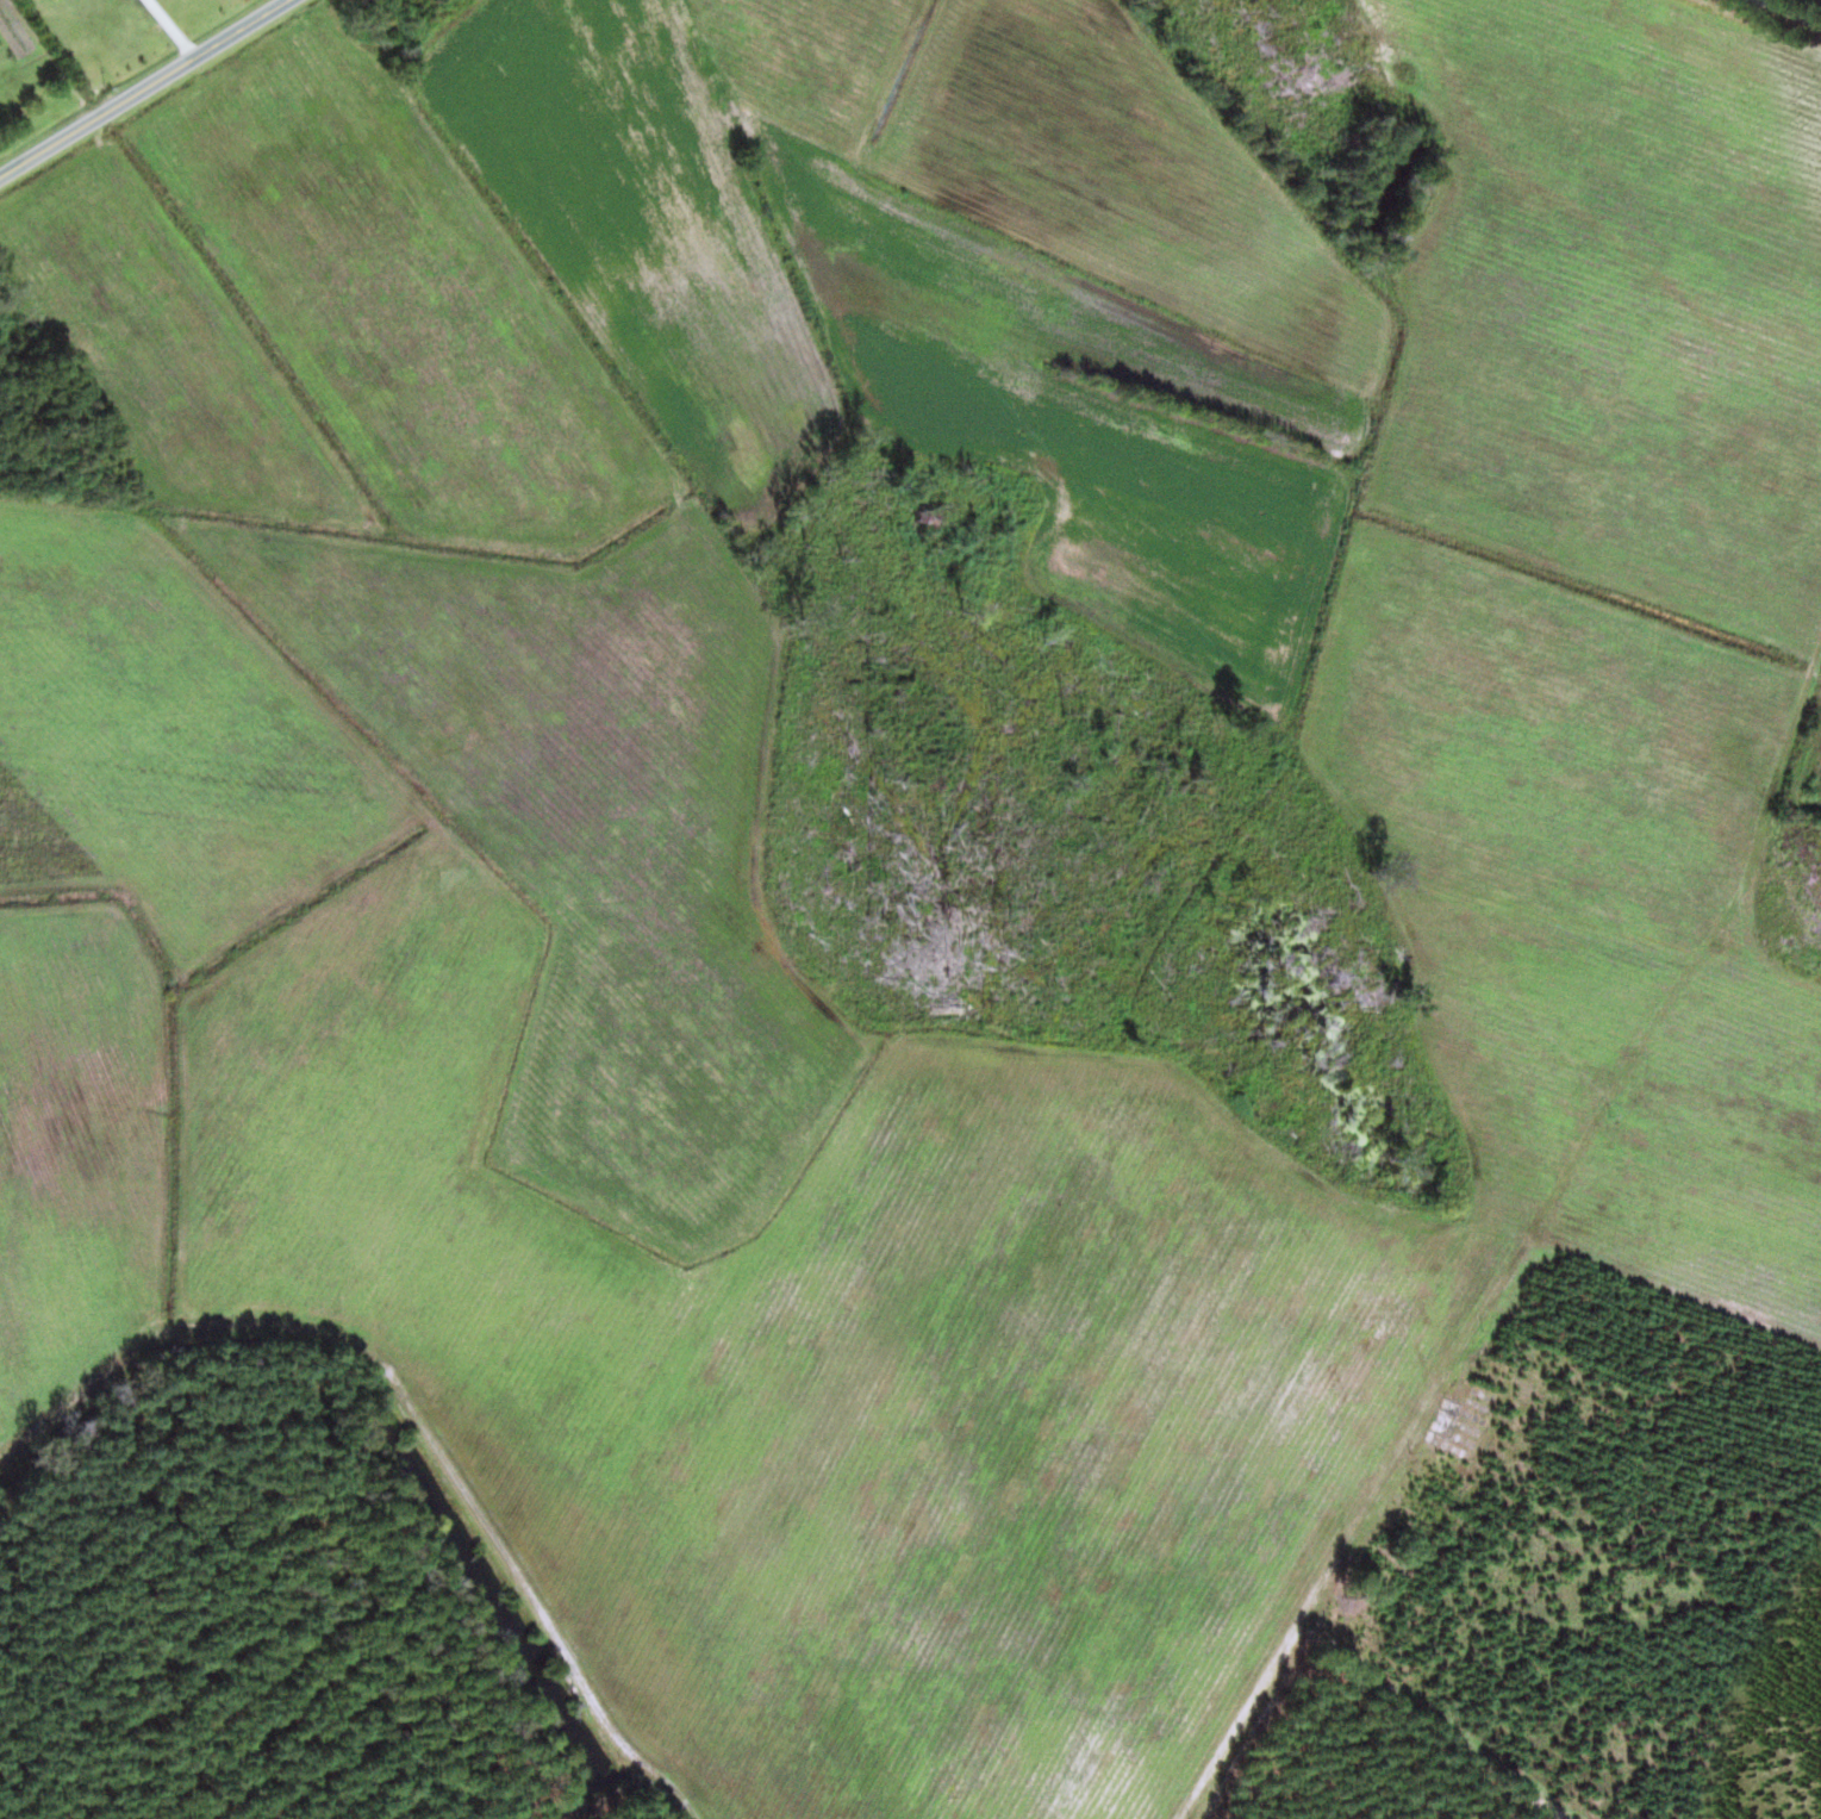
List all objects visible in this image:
building: (366, 4)
road: (143, 88)
road: (24, 697)
building: (1441, 1416)
building: (1439, 1477)
road: (1309, 1480)
building: (1360, 1653)

